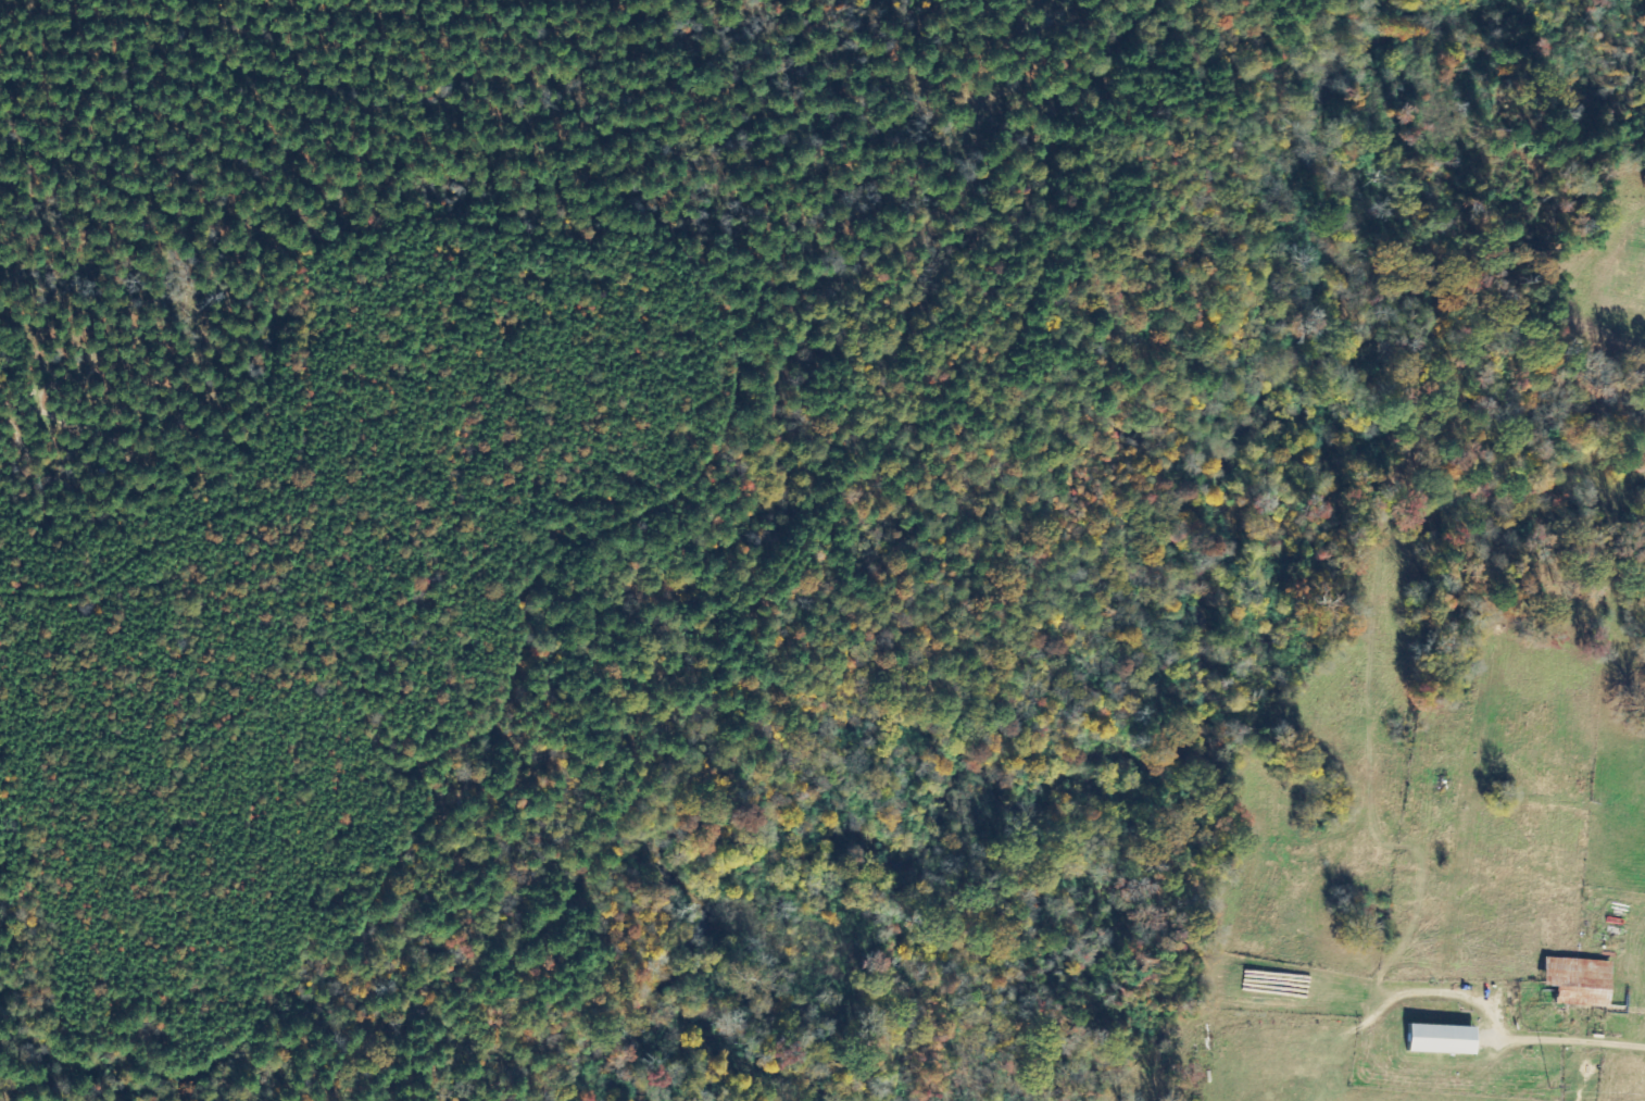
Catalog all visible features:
building: (1575, 981)
building: (1436, 1040)

